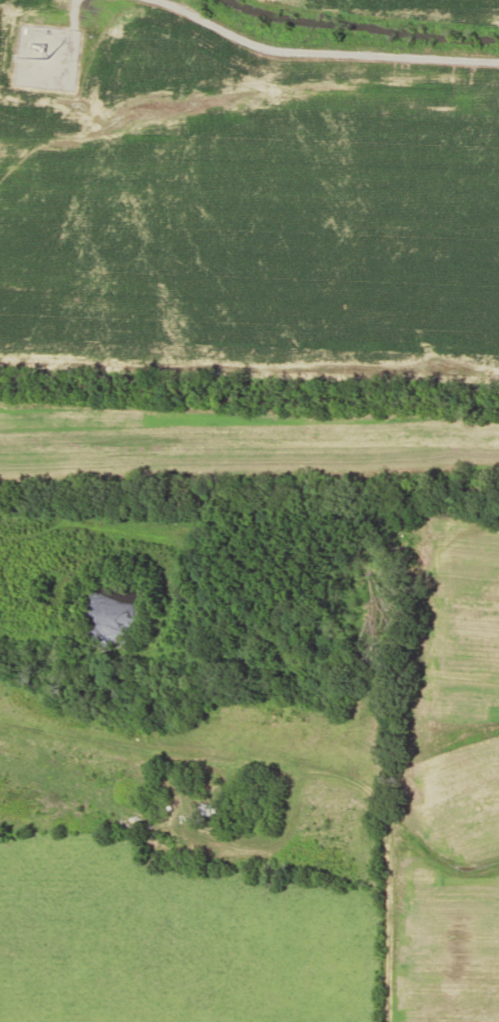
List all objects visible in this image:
road: (249, 524)
road: (387, 897)

